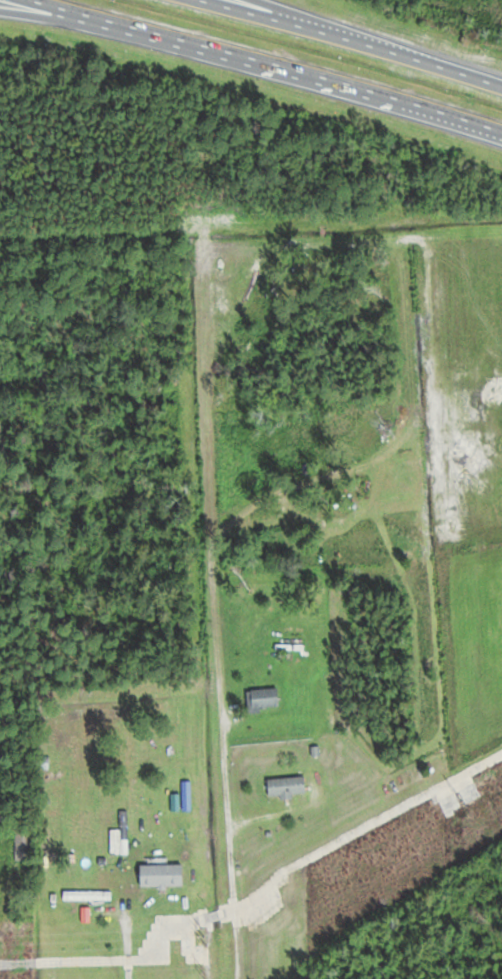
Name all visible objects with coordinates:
road: (40, 10)
road: (309, 27)
road: (344, 43)
road: (267, 64)
building: (263, 699)
road: (224, 770)
building: (286, 787)
power tower: (501, 817)
building: (23, 844)
building: (161, 875)
building: (3, 893)
building: (86, 895)
power tower: (197, 938)
power tower: (203, 973)

